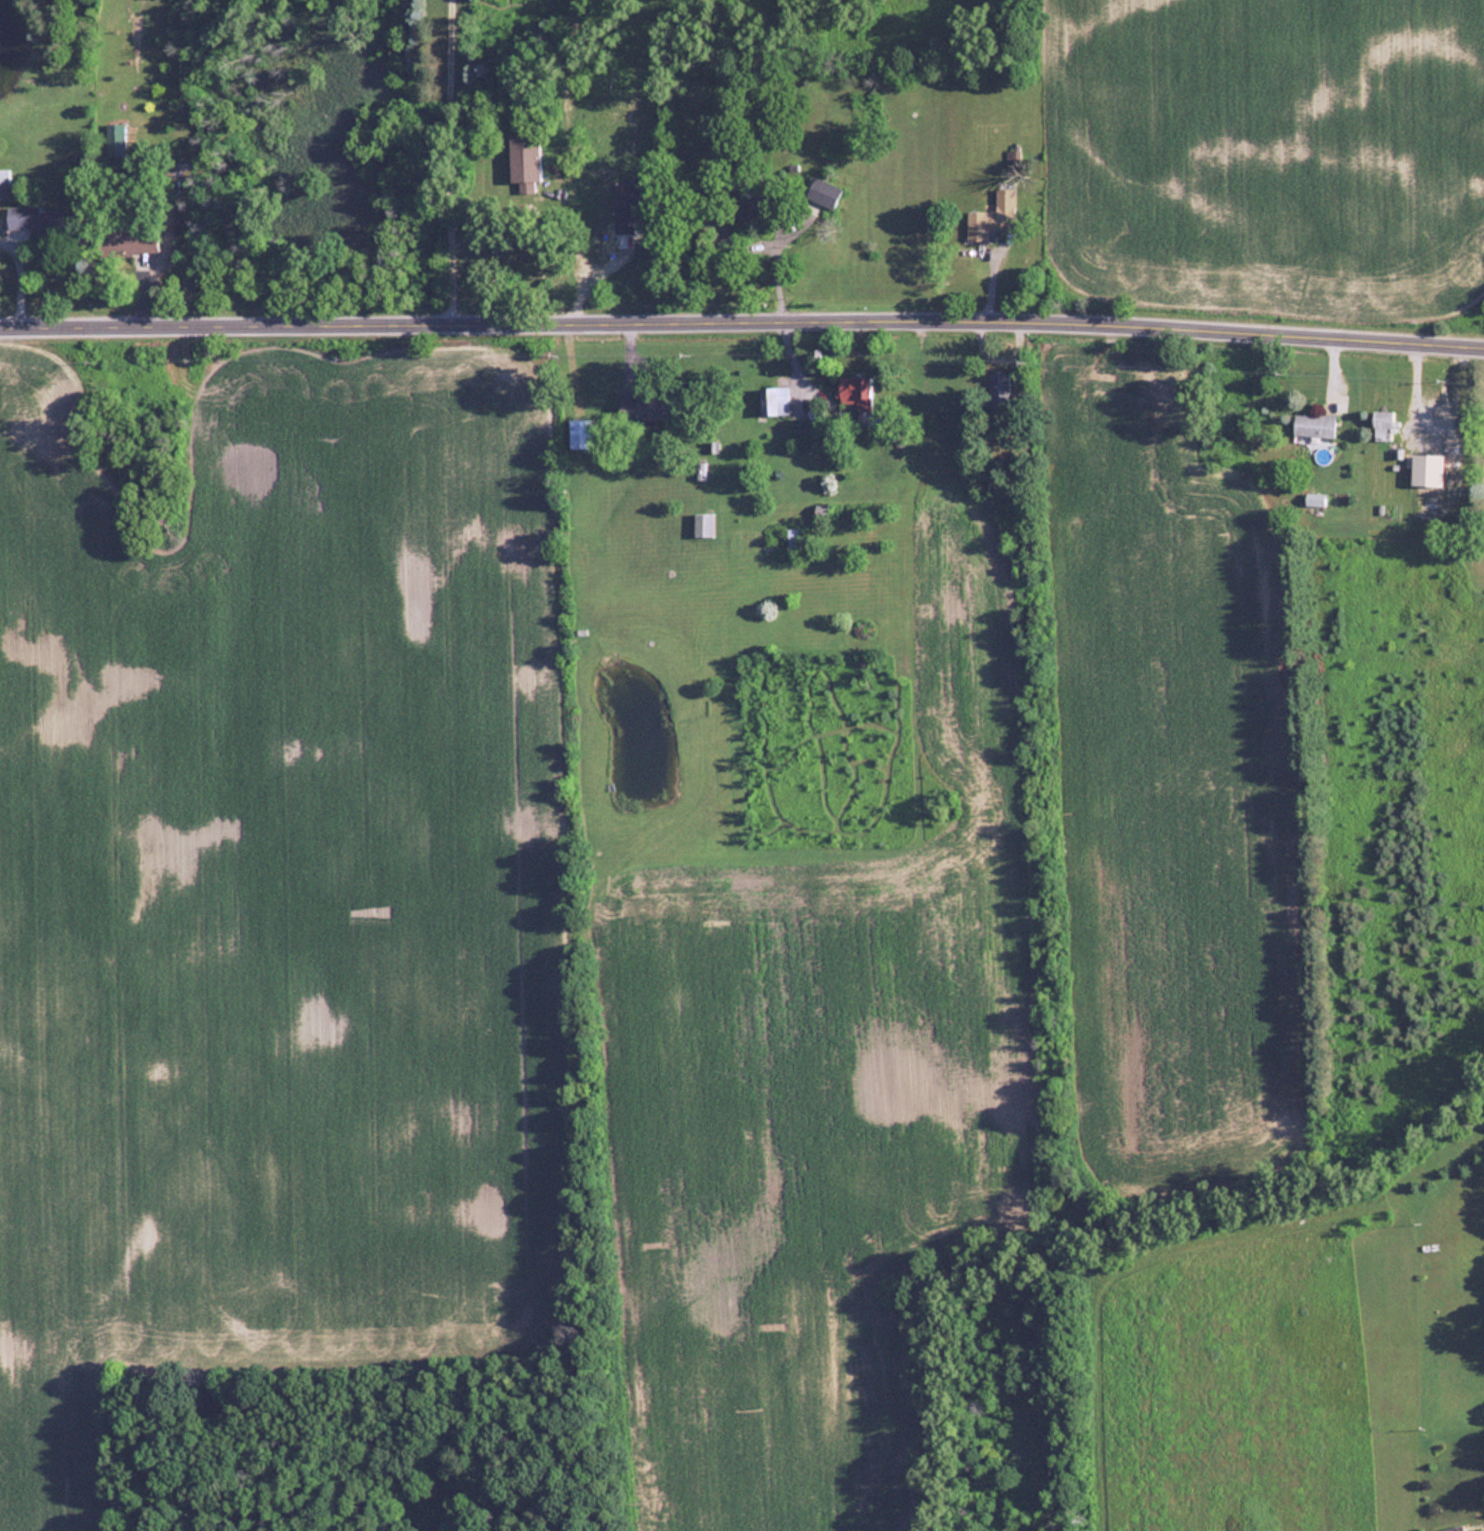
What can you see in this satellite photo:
building: (117, 141)
road: (449, 158)
building: (524, 160)
building: (4, 183)
building: (823, 192)
building: (750, 203)
building: (991, 217)
building: (37, 218)
road: (574, 218)
building: (620, 236)
building: (117, 239)
road: (742, 317)
building: (999, 390)
building: (856, 393)
building: (774, 400)
building: (645, 405)
building: (1314, 424)
building: (1383, 425)
building: (580, 433)
building: (1427, 469)
building: (703, 525)
building: (793, 541)
building: (1480, 1328)
building: (1467, 1528)

